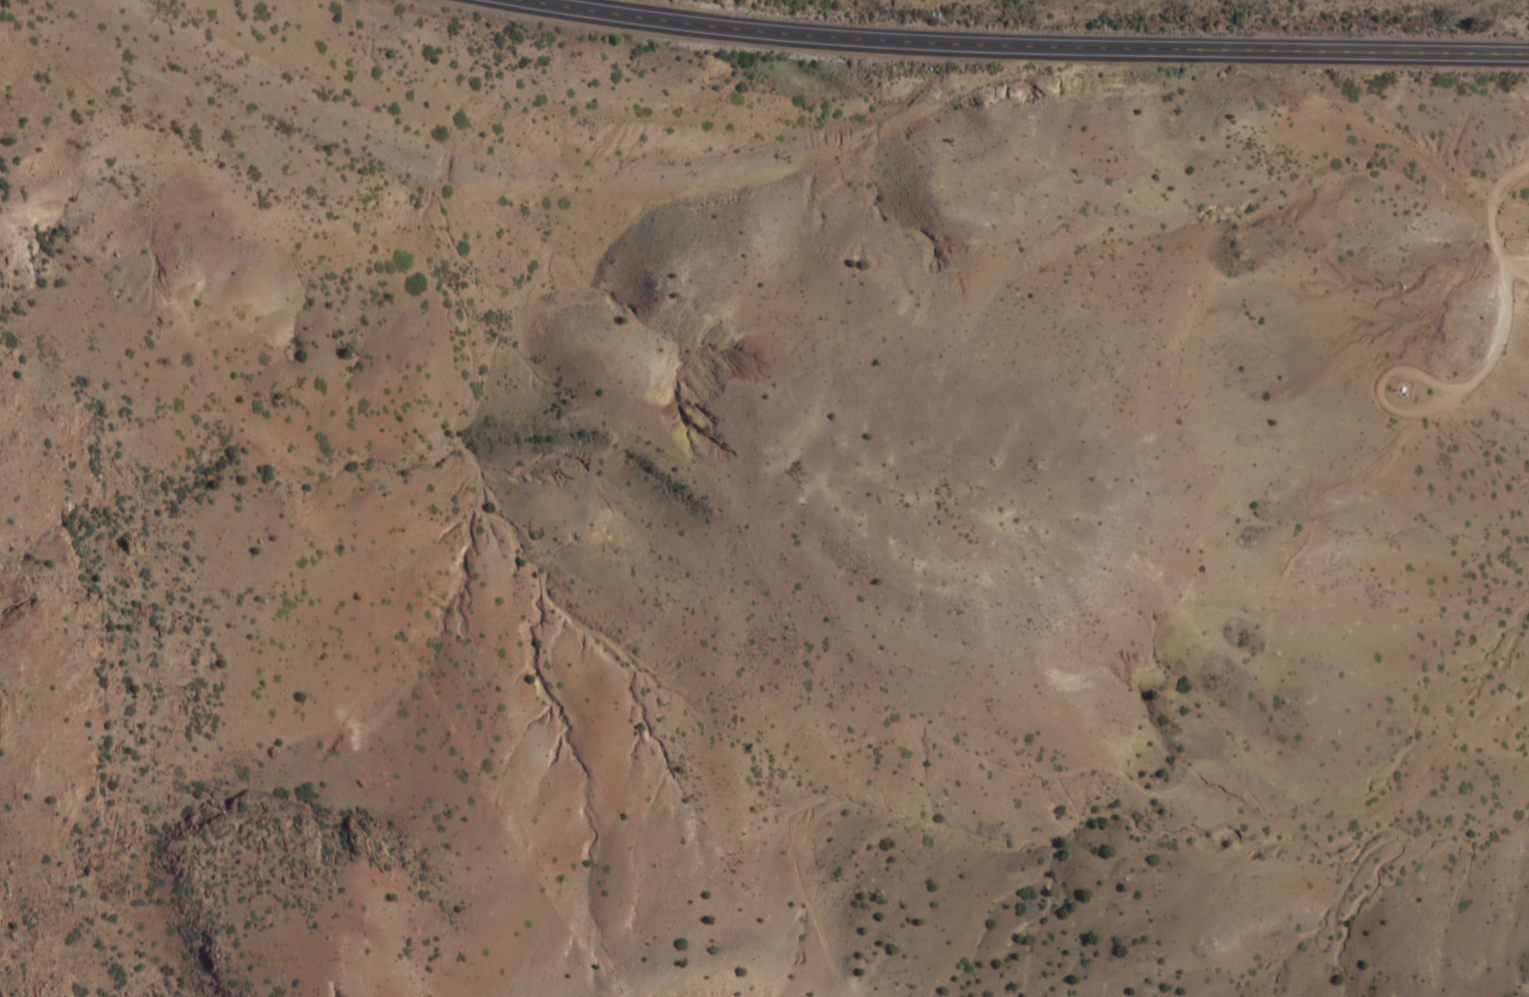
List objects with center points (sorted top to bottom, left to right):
road: (1017, 48)

